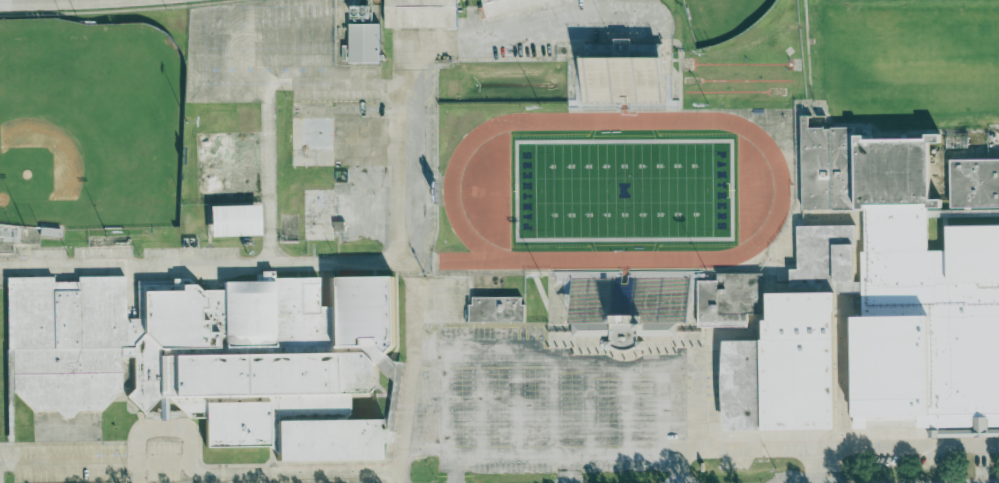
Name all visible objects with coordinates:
road: (72, 3)
road: (132, 3)
building: (510, 5)
road: (609, 5)
road: (36, 7)
building: (420, 14)
park: (721, 18)
building: (363, 38)
building: (622, 76)
road: (413, 96)
road: (266, 99)
park: (90, 126)
stadium: (622, 182)
building: (974, 182)
track: (476, 187)
park: (622, 190)
building: (233, 221)
road: (206, 262)
building: (895, 286)
building: (729, 299)
building: (628, 302)
building: (496, 310)
building: (210, 355)
road: (692, 364)
building: (778, 385)
road: (909, 446)
road: (775, 449)
road: (94, 462)
road: (981, 464)
road: (676, 467)
road: (394, 468)
road: (454, 469)
road: (568, 469)
road: (222, 474)

